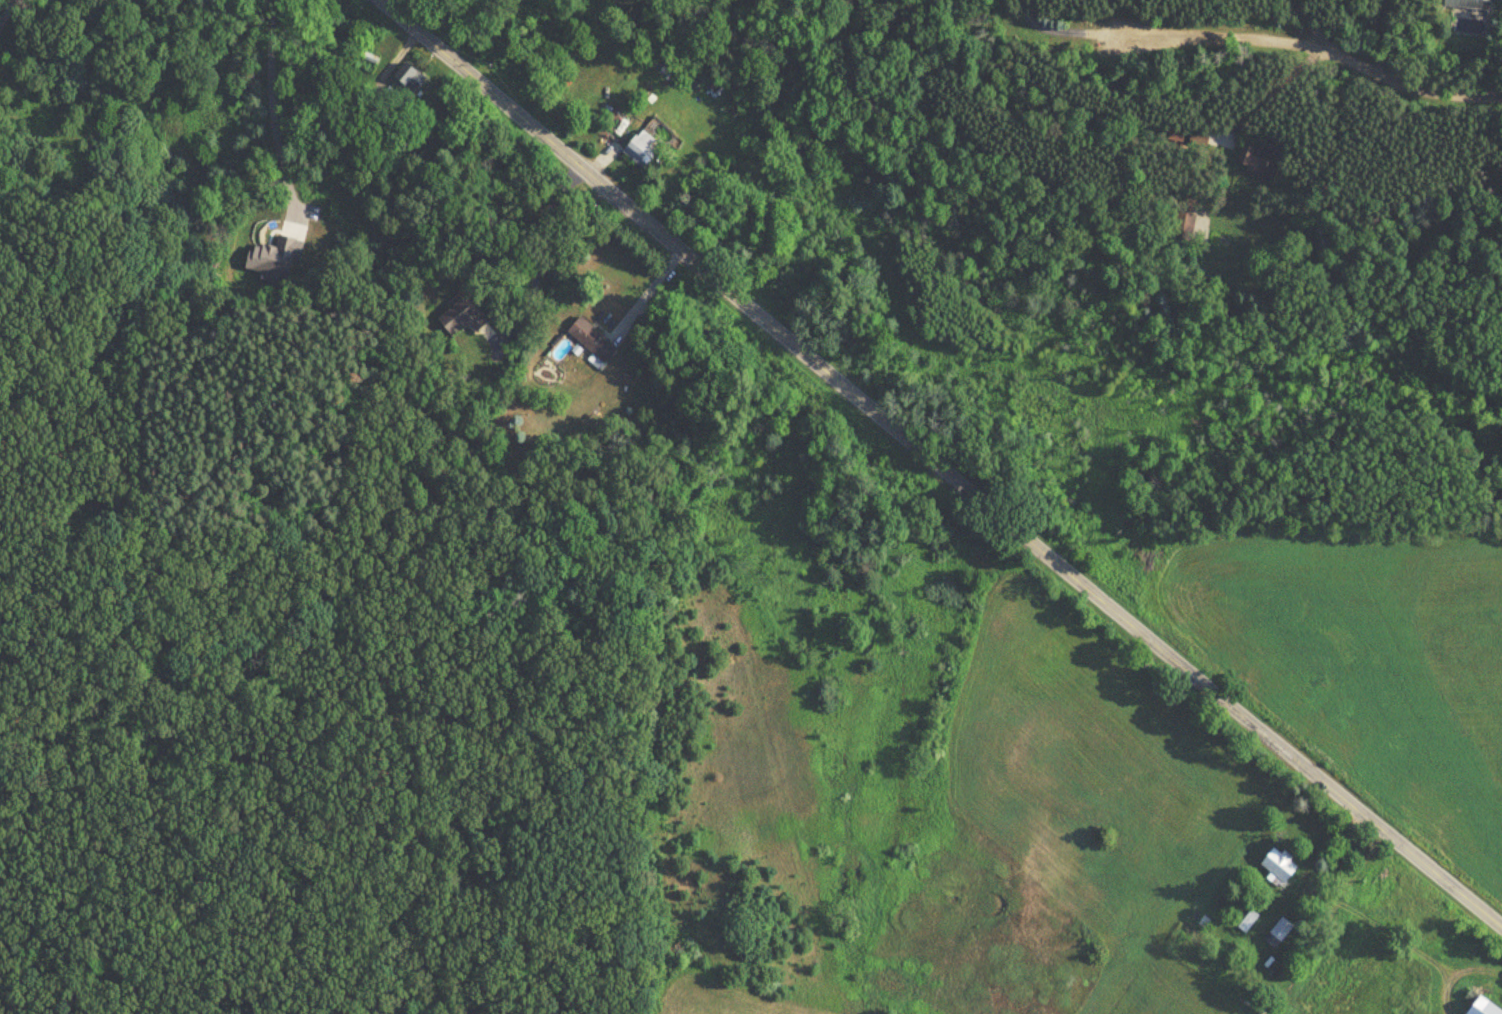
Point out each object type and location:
building: (1463, 3)
road: (16, 23)
road: (1300, 50)
building: (408, 81)
road: (270, 106)
building: (640, 147)
building: (1253, 158)
building: (1182, 224)
road: (540, 253)
road: (646, 292)
building: (460, 316)
building: (590, 339)
road: (938, 465)
building: (1276, 866)
building: (1277, 932)
building: (1481, 1007)

